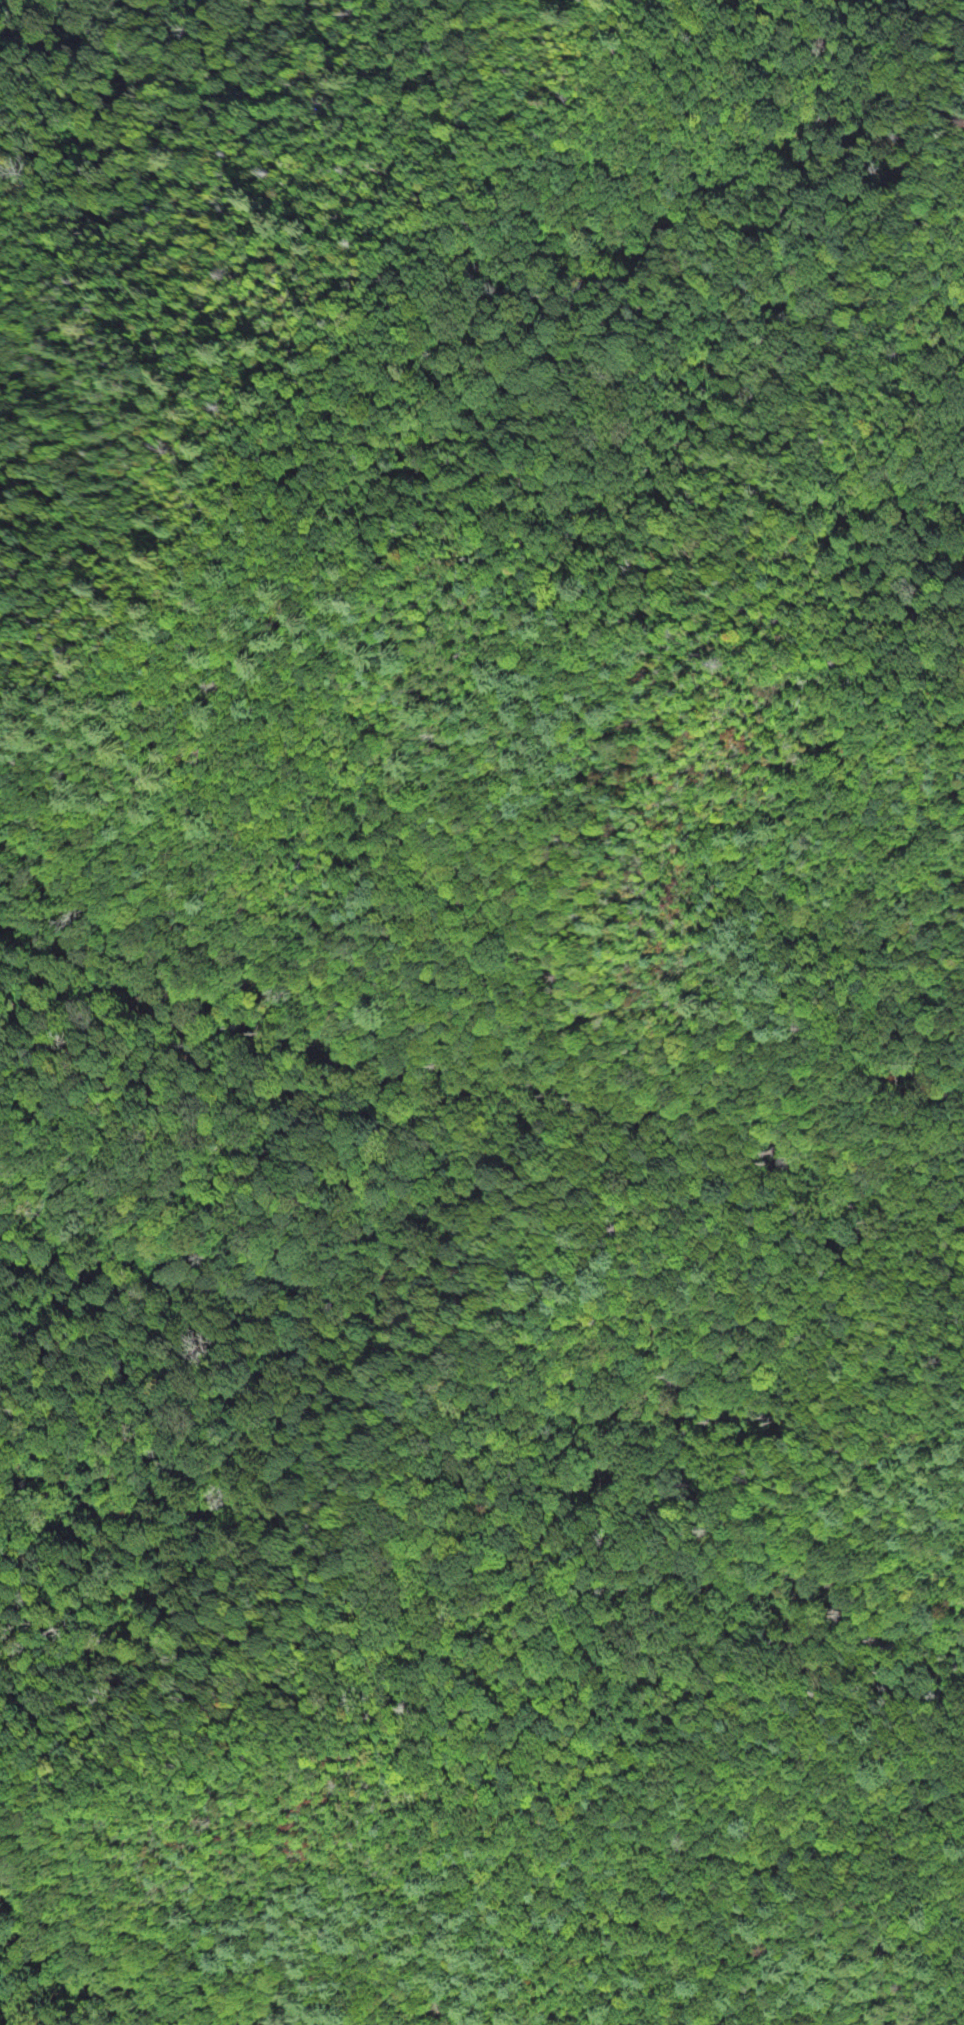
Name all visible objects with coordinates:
road: (186, 766)

